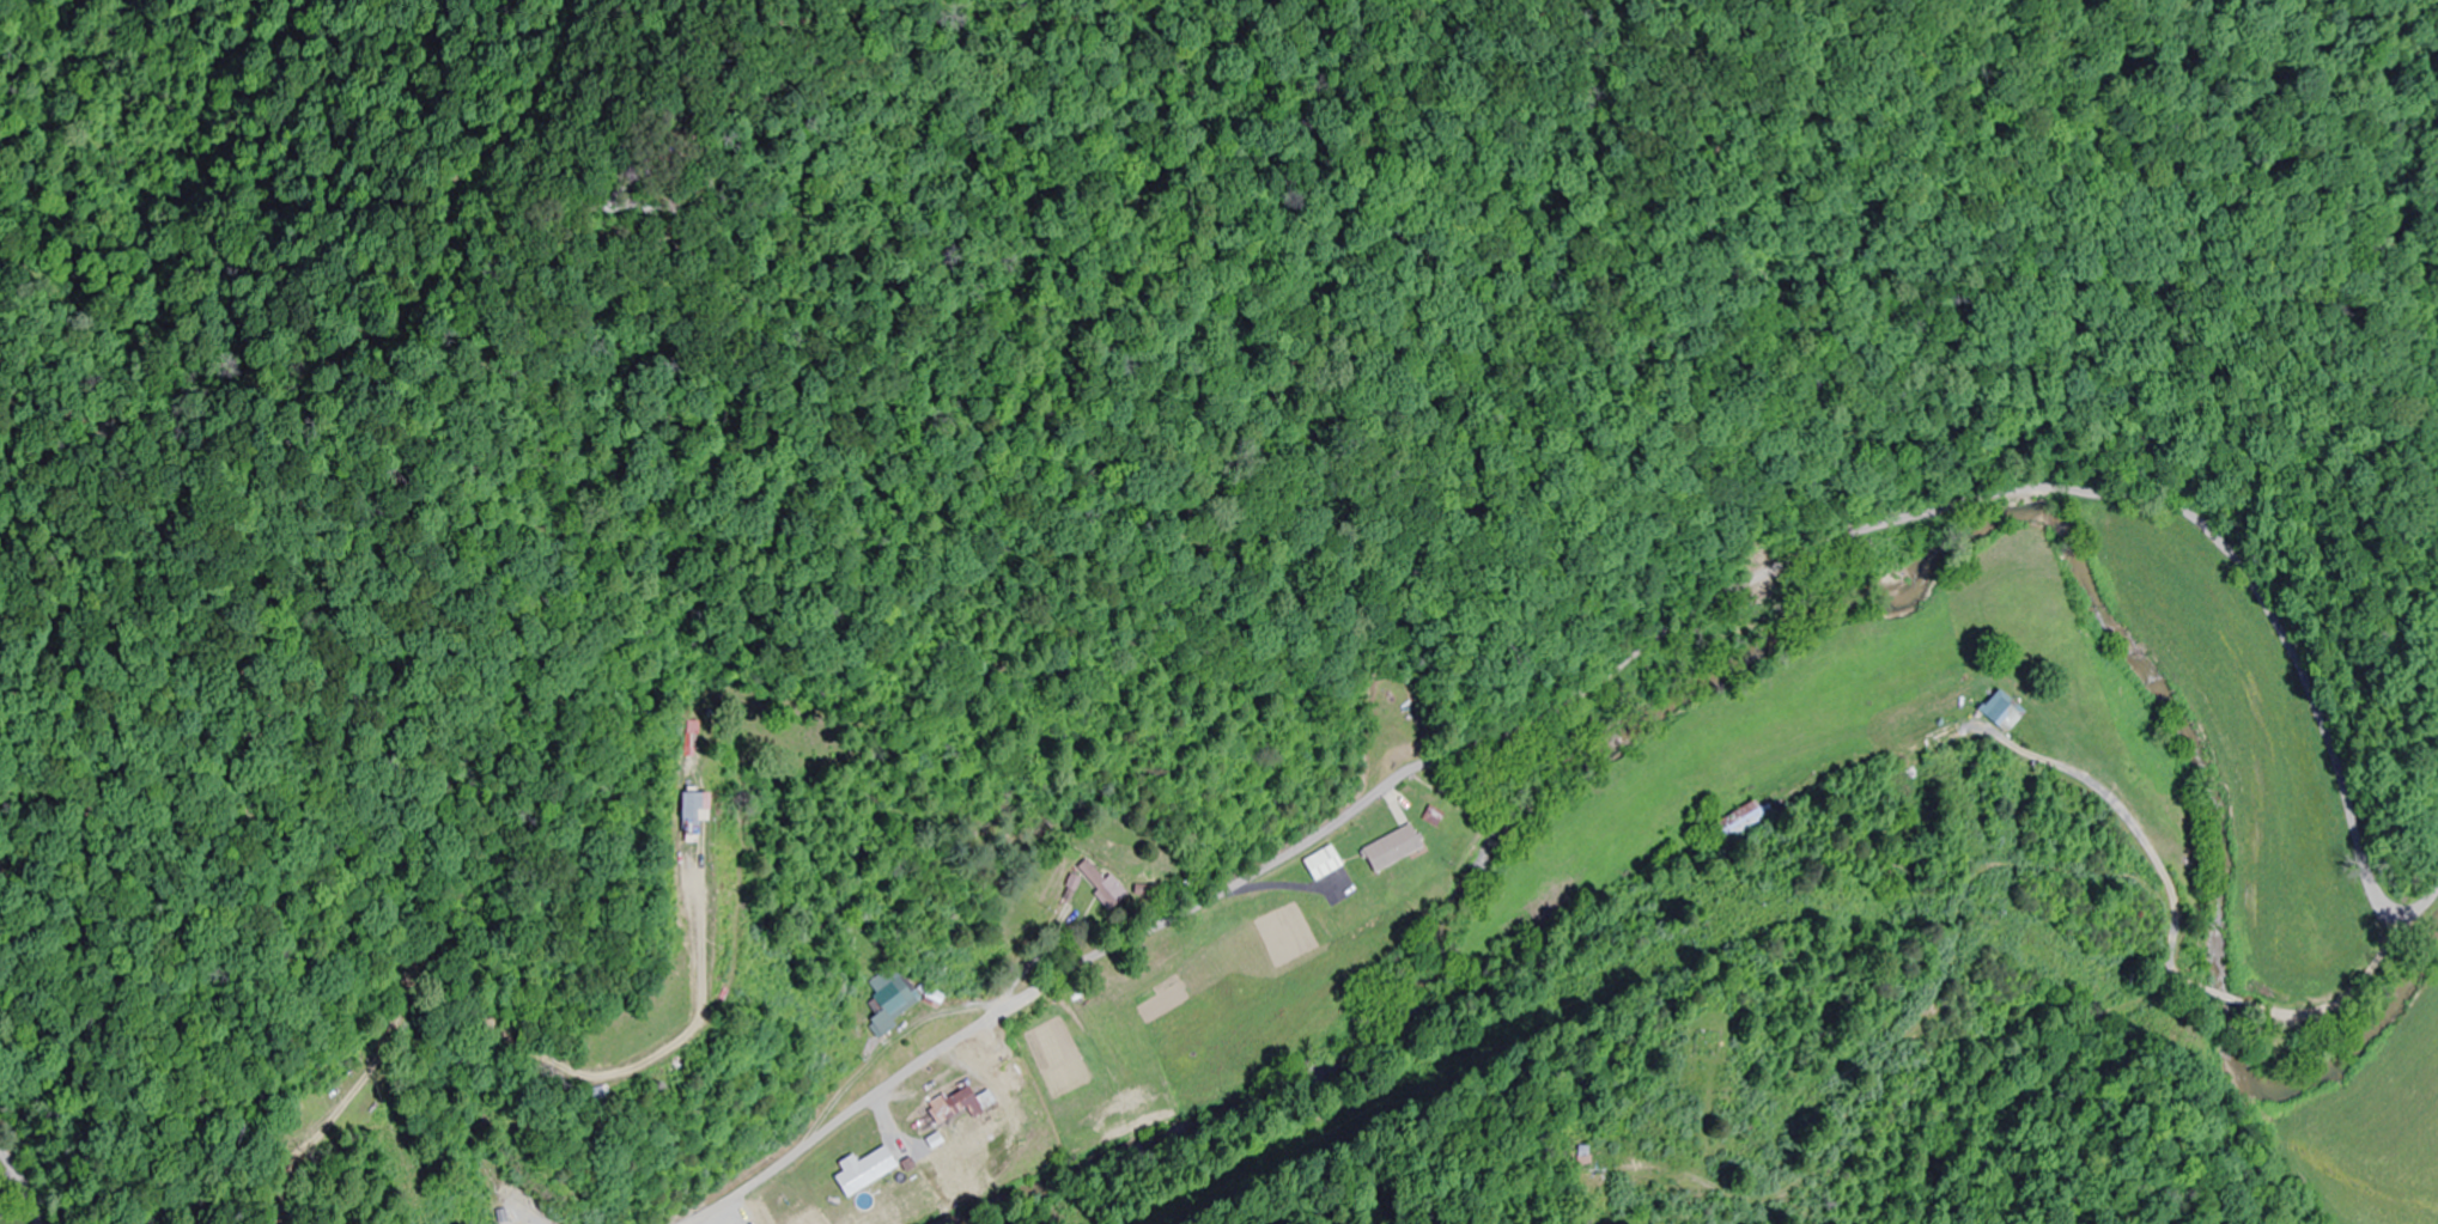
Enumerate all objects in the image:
road: (1631, 657)
building: (2001, 711)
building: (688, 775)
building: (1744, 823)
building: (1390, 848)
building: (1320, 864)
building: (1096, 882)
building: (889, 1001)
building: (948, 1104)
building: (1642, 1164)
building: (863, 1171)
road: (23, 1185)

